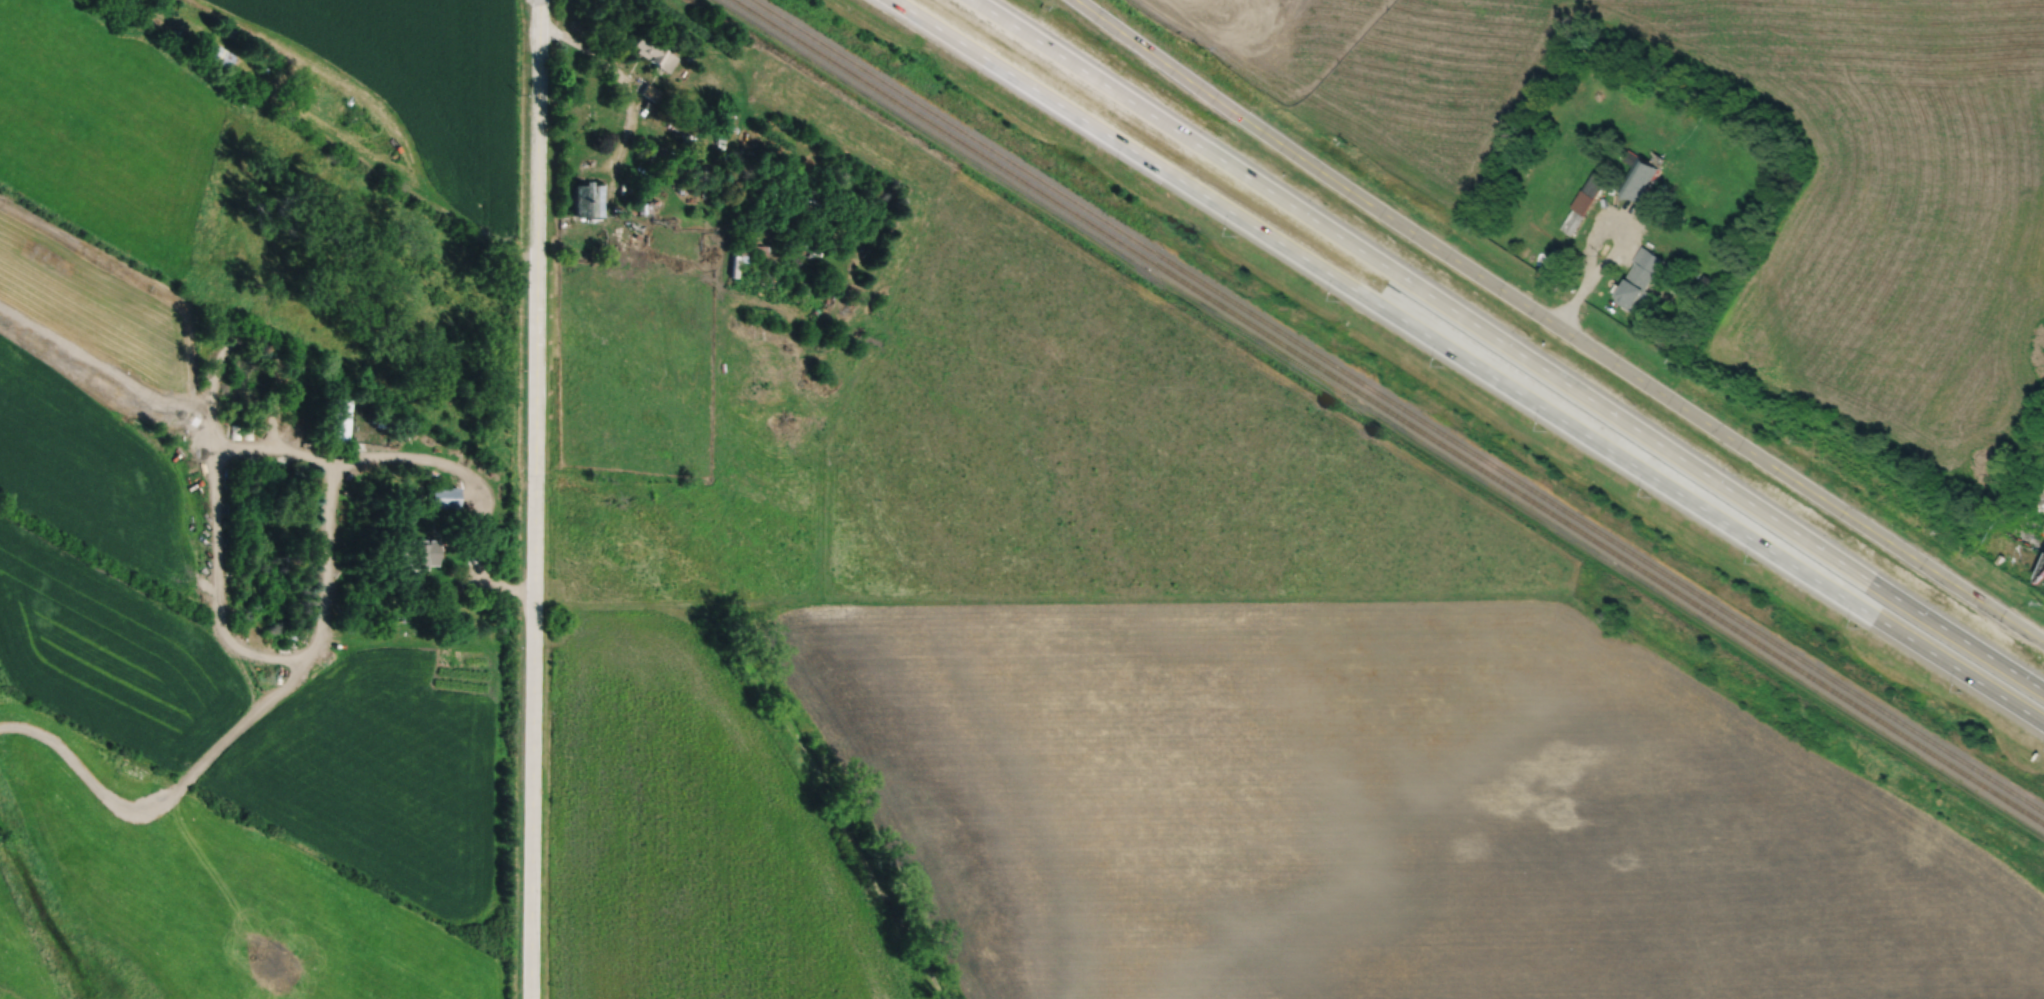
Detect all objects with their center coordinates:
building: (220, 56)
road: (618, 78)
building: (660, 82)
building: (1640, 178)
building: (1595, 182)
building: (589, 201)
building: (1582, 201)
building: (1572, 221)
road: (1590, 236)
building: (752, 250)
building: (1639, 279)
road: (1557, 326)
road: (1508, 345)
road: (1468, 361)
railway: (1397, 405)
railway: (1389, 411)
building: (337, 422)
building: (239, 430)
building: (250, 431)
road: (246, 448)
building: (446, 497)
road: (535, 499)
building: (417, 554)
road: (257, 654)

